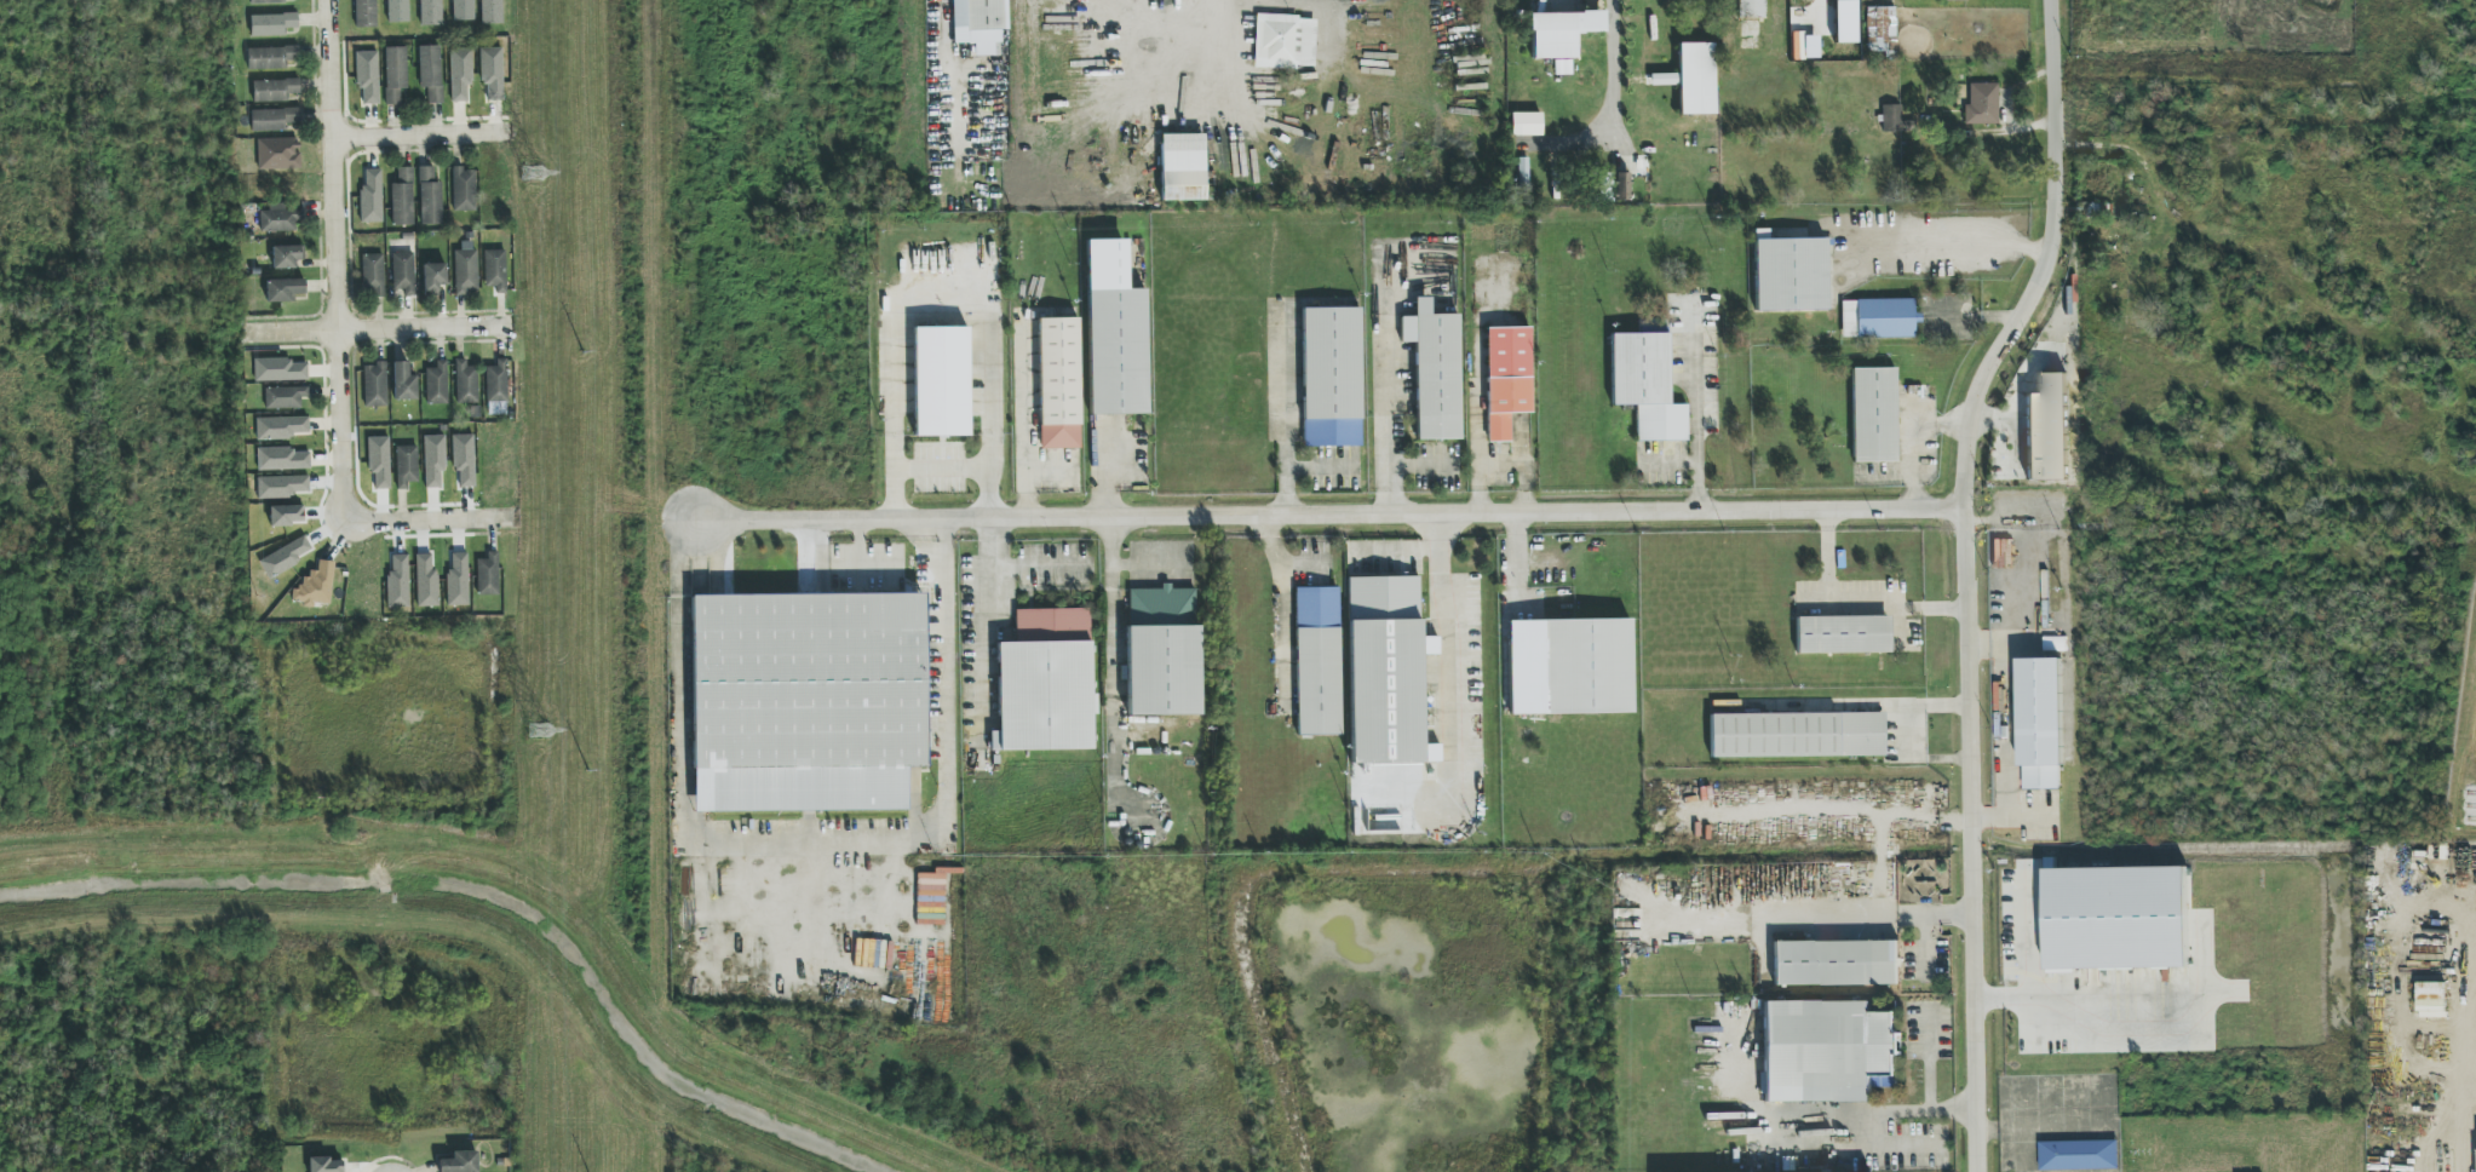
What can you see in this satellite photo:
building: (1590, 0)
building: (1953, 0)
building: (266, 1)
building: (1751, 8)
building: (463, 10)
building: (397, 11)
building: (490, 11)
building: (430, 12)
building: (364, 13)
building: (271, 24)
building: (978, 24)
building: (1882, 30)
building: (1559, 33)
building: (1285, 41)
road: (1220, 45)
building: (271, 57)
building: (431, 73)
building: (492, 73)
building: (395, 74)
building: (460, 74)
road: (1612, 74)
building: (367, 76)
building: (1696, 79)
building: (274, 90)
building: (1982, 104)
building: (272, 119)
building: (1895, 120)
building: (1526, 123)
road: (420, 137)
building: (1182, 167)
power tower: (530, 172)
building: (1522, 173)
building: (1620, 186)
building: (464, 189)
building: (370, 197)
building: (430, 197)
building: (402, 199)
building: (278, 219)
road: (1953, 254)
building: (286, 257)
road: (337, 262)
road: (2044, 263)
building: (465, 269)
building: (494, 270)
building: (403, 272)
building: (372, 274)
building: (1790, 274)
building: (433, 277)
road: (940, 288)
building: (283, 291)
building: (1877, 318)
road: (375, 332)
building: (1114, 333)
building: (278, 370)
building: (1435, 370)
building: (1331, 377)
building: (1506, 379)
building: (496, 381)
building: (941, 381)
building: (403, 383)
building: (465, 383)
building: (1058, 383)
building: (437, 384)
building: (375, 385)
building: (1645, 385)
building: (285, 397)
road: (1389, 398)
road: (1480, 400)
road: (1286, 415)
building: (1874, 415)
road: (1699, 426)
building: (281, 427)
building: (2046, 429)
building: (281, 459)
building: (464, 459)
building: (433, 460)
building: (379, 461)
road: (1421, 464)
building: (406, 466)
road: (941, 466)
road: (1523, 470)
building: (282, 487)
road: (1332, 515)
building: (286, 516)
road: (430, 522)
road: (1517, 546)
road: (1826, 546)
road: (1398, 547)
building: (286, 557)
road: (1120, 565)
road: (989, 569)
building: (487, 575)
building: (458, 579)
building: (397, 581)
building: (426, 582)
road: (1286, 584)
building: (315, 586)
road: (1897, 593)
building: (1052, 619)
building: (1843, 634)
road: (1111, 647)
building: (1161, 653)
building: (1317, 661)
road: (1444, 661)
building: (1587, 667)
building: (1384, 670)
building: (1042, 696)
building: (806, 701)
building: (2039, 723)
power tower: (538, 728)
road: (1908, 728)
building: (1797, 735)
road: (1832, 811)
road: (808, 834)
road: (1969, 840)
road: (1884, 864)
river: (484, 902)
road: (1817, 917)
building: (2114, 918)
building: (1836, 963)
road: (2090, 1000)
building: (1825, 1050)
road: (1928, 1059)
road: (1872, 1111)
road: (2020, 1126)
road: (2465, 1137)
building: (2076, 1155)
building: (459, 1162)
building: (324, 1165)

